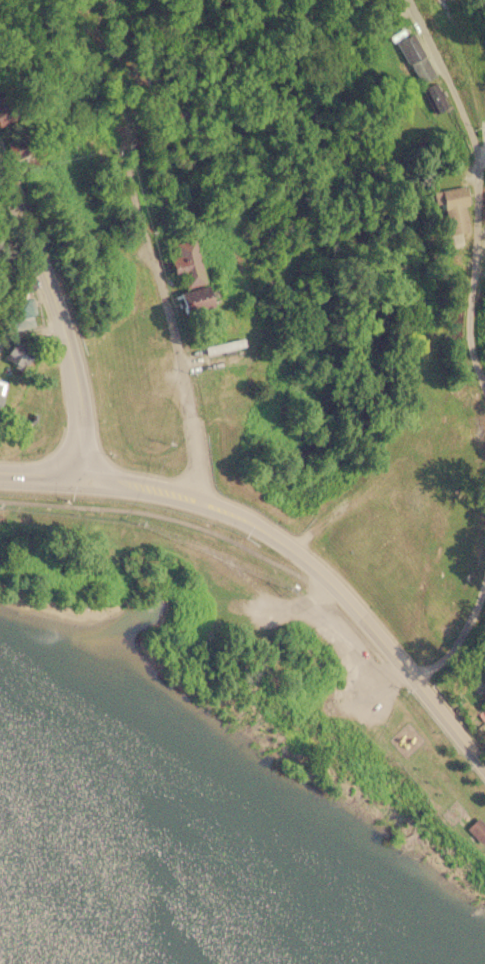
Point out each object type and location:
building: (335, 0)
building: (415, 58)
building: (434, 98)
building: (1, 114)
road: (484, 190)
building: (452, 197)
building: (186, 264)
building: (200, 297)
building: (20, 310)
road: (62, 318)
building: (224, 345)
building: (1, 384)
road: (165, 386)
road: (44, 478)
road: (209, 532)
road: (274, 538)
road: (460, 634)
road: (449, 721)
building: (477, 829)

